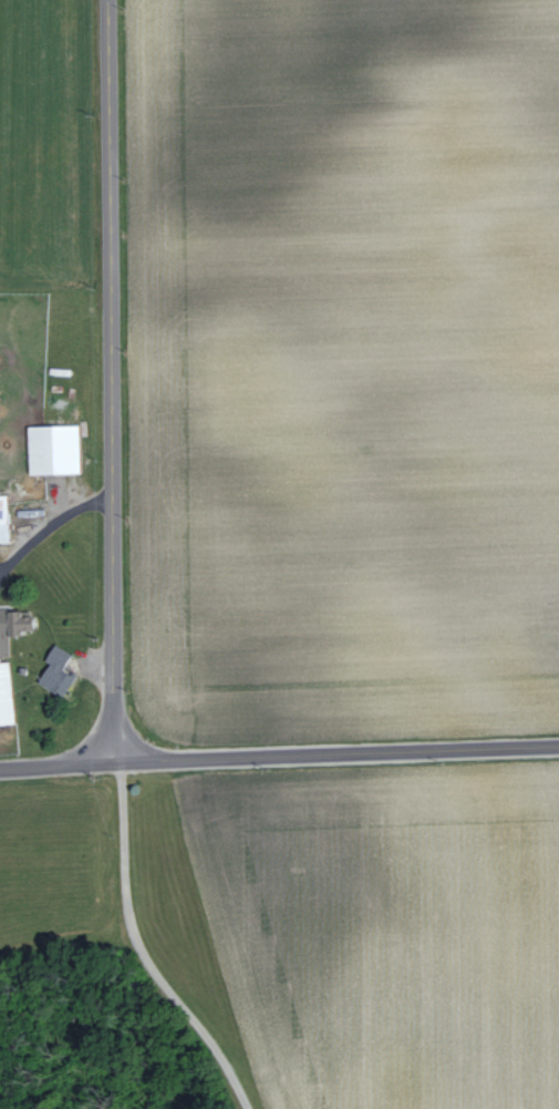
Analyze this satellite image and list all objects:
road: (96, 380)
building: (50, 449)
building: (1, 518)
road: (44, 530)
building: (11, 622)
building: (52, 670)
building: (3, 695)
road: (337, 752)
road: (56, 764)
road: (145, 949)

